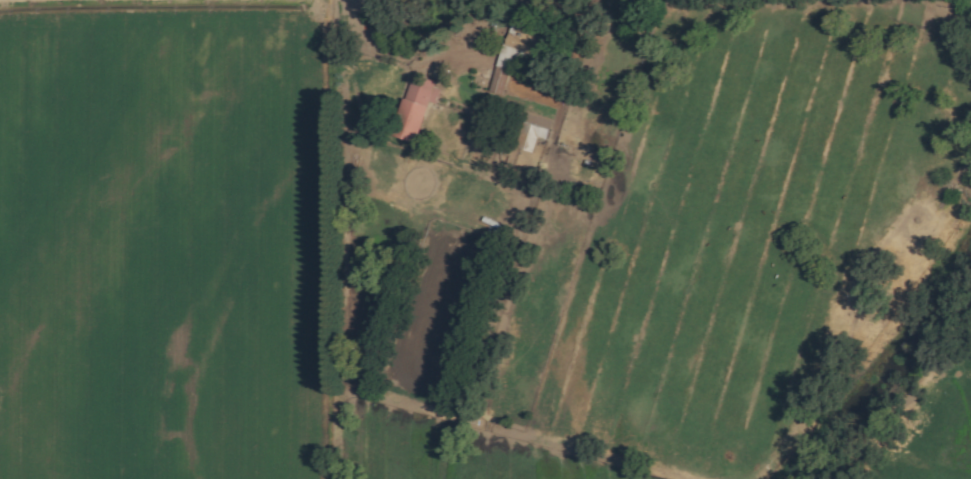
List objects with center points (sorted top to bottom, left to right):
building: (522, 41)
building: (497, 80)
building: (527, 136)

